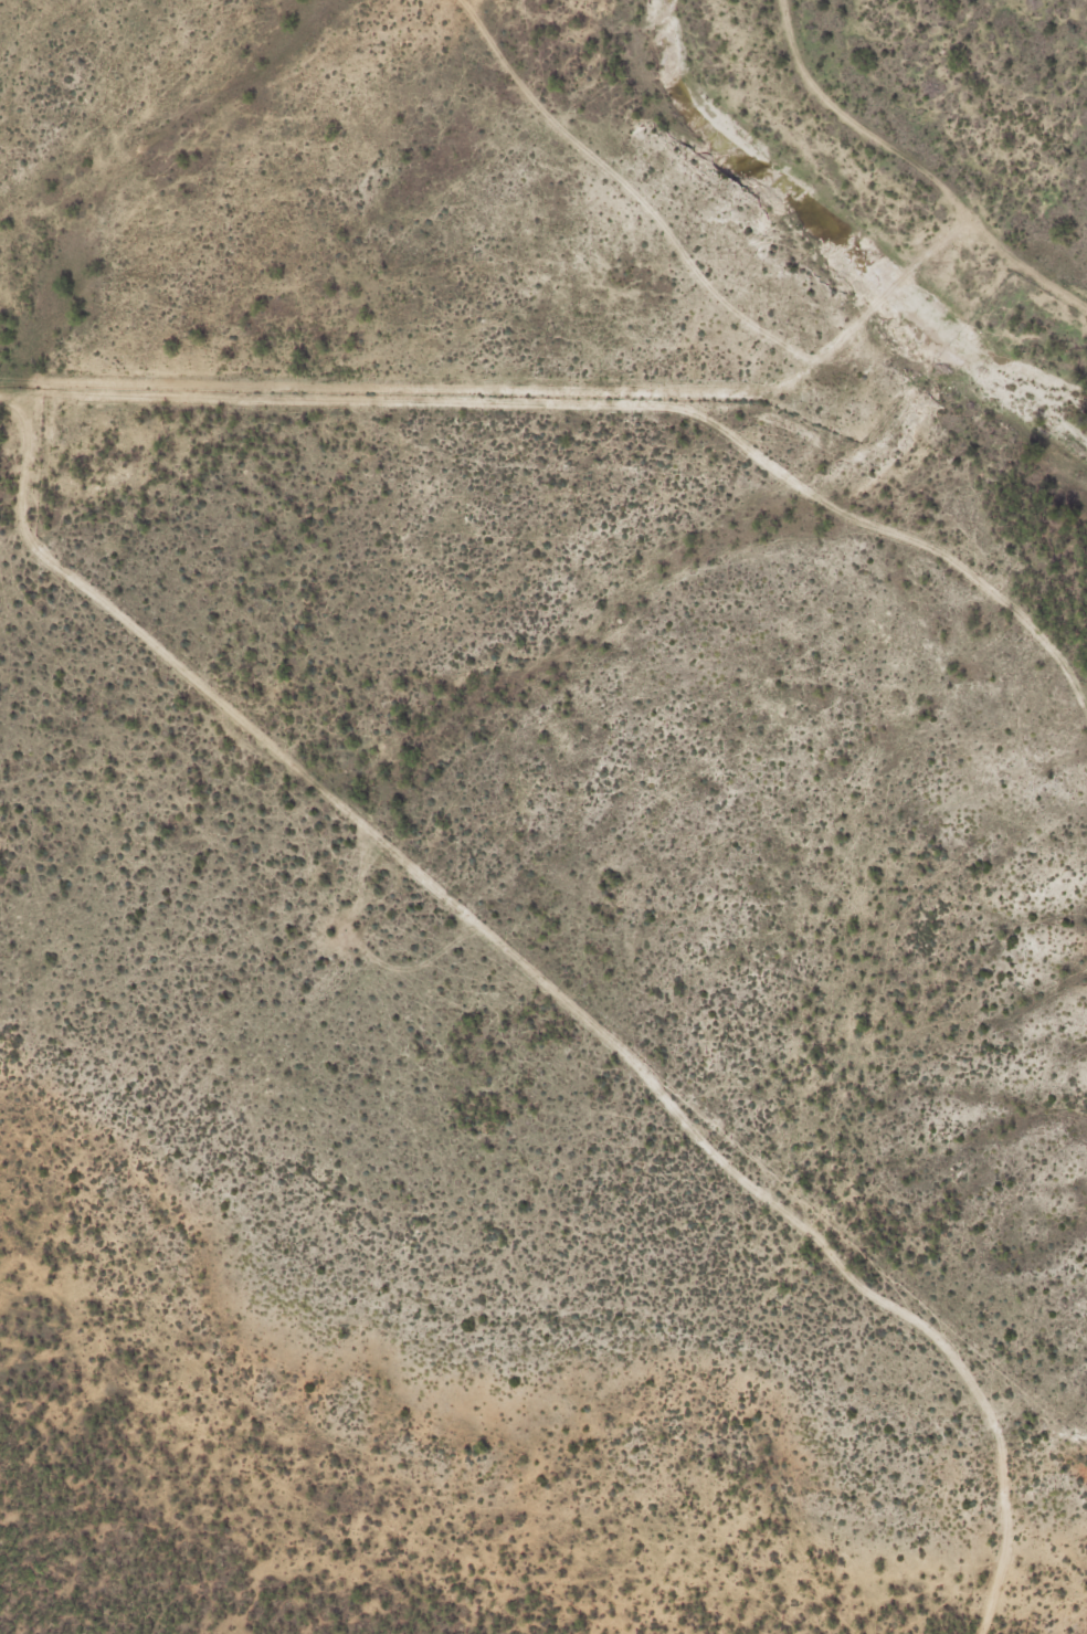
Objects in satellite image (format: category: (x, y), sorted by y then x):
road: (917, 165)
road: (632, 191)
river: (832, 245)
road: (840, 340)
road: (597, 403)
road: (555, 988)

